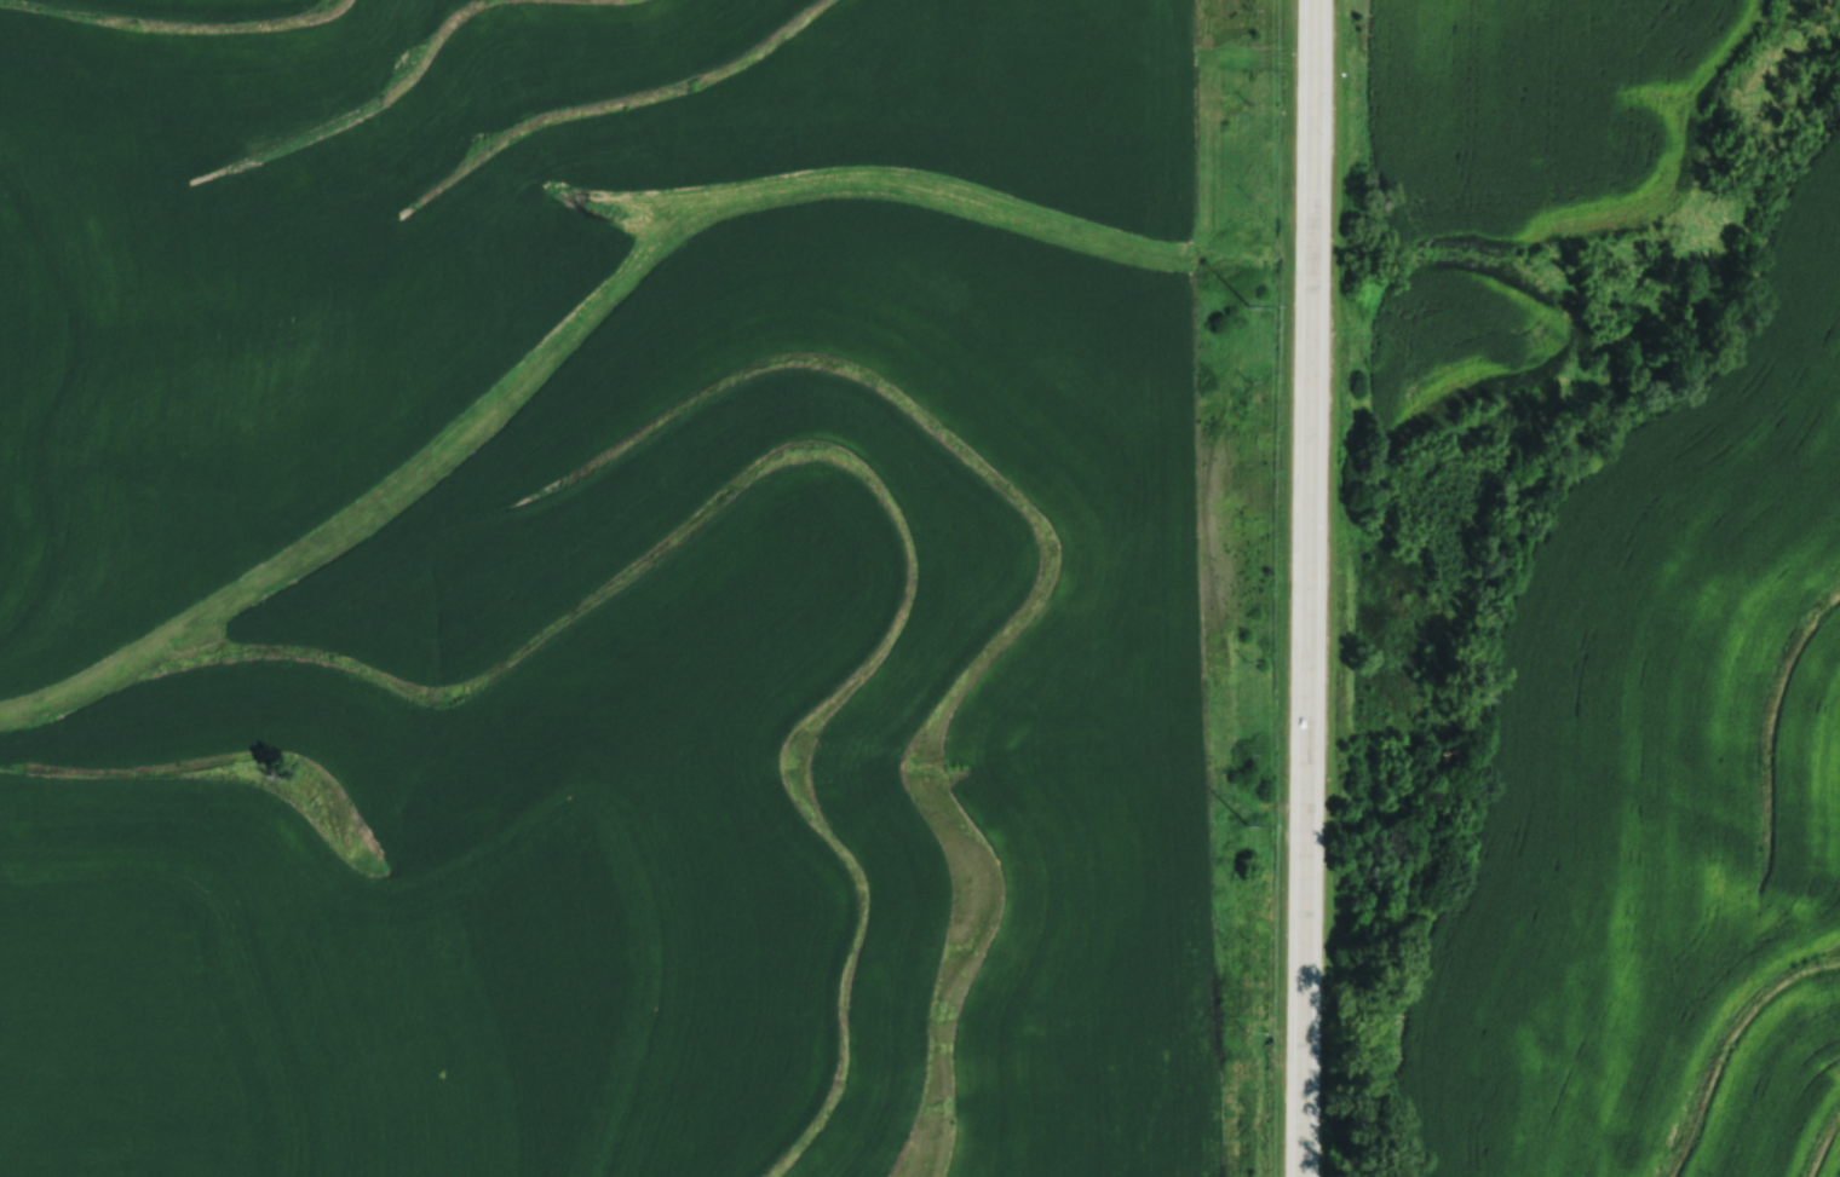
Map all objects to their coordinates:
power tower: (1246, 307)
road: (1305, 588)
power tower: (1243, 826)

